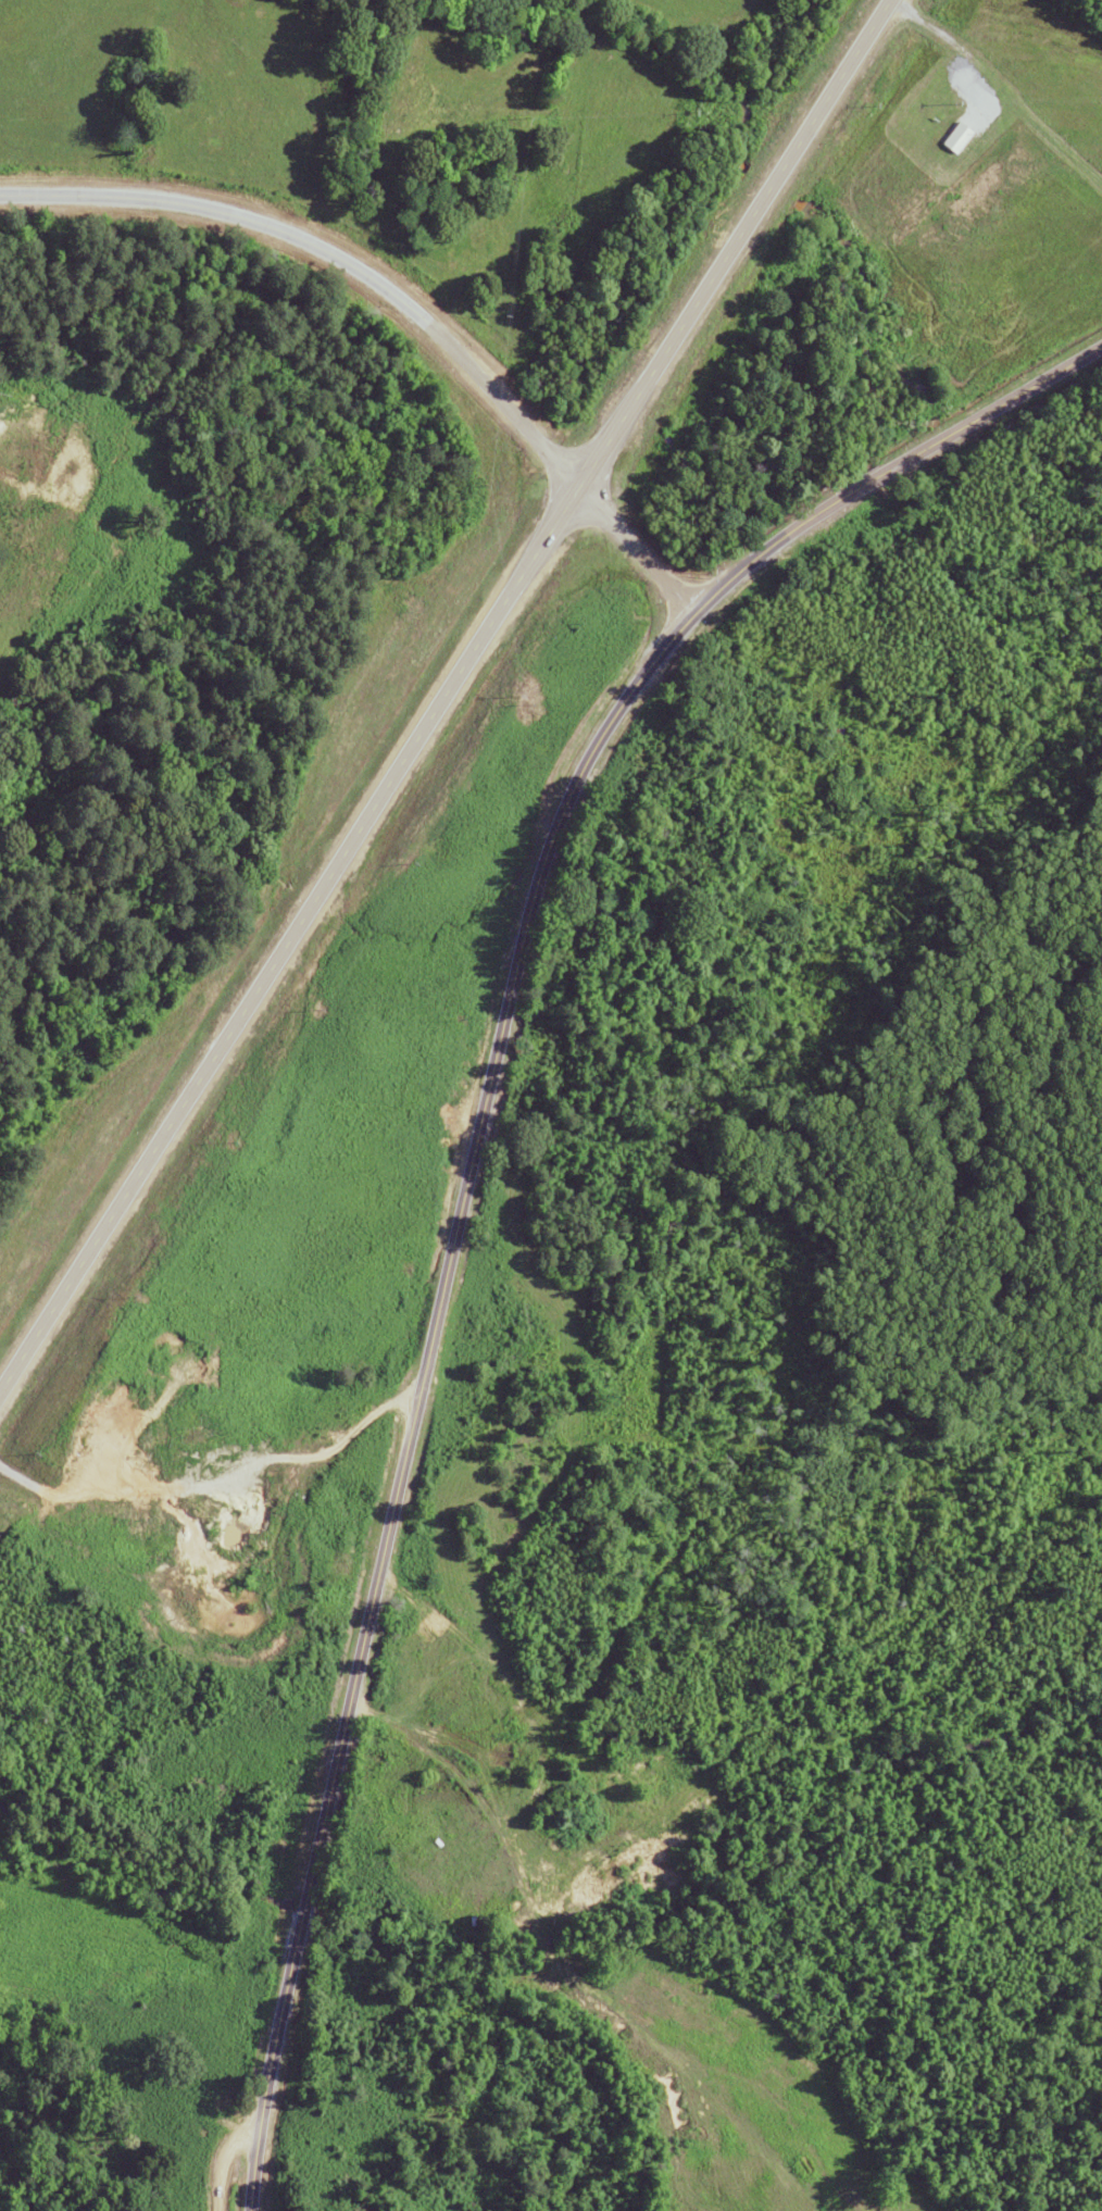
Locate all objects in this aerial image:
road: (402, 299)
road: (992, 409)
road: (872, 478)
road: (442, 705)
road: (448, 1289)
road: (239, 2168)

